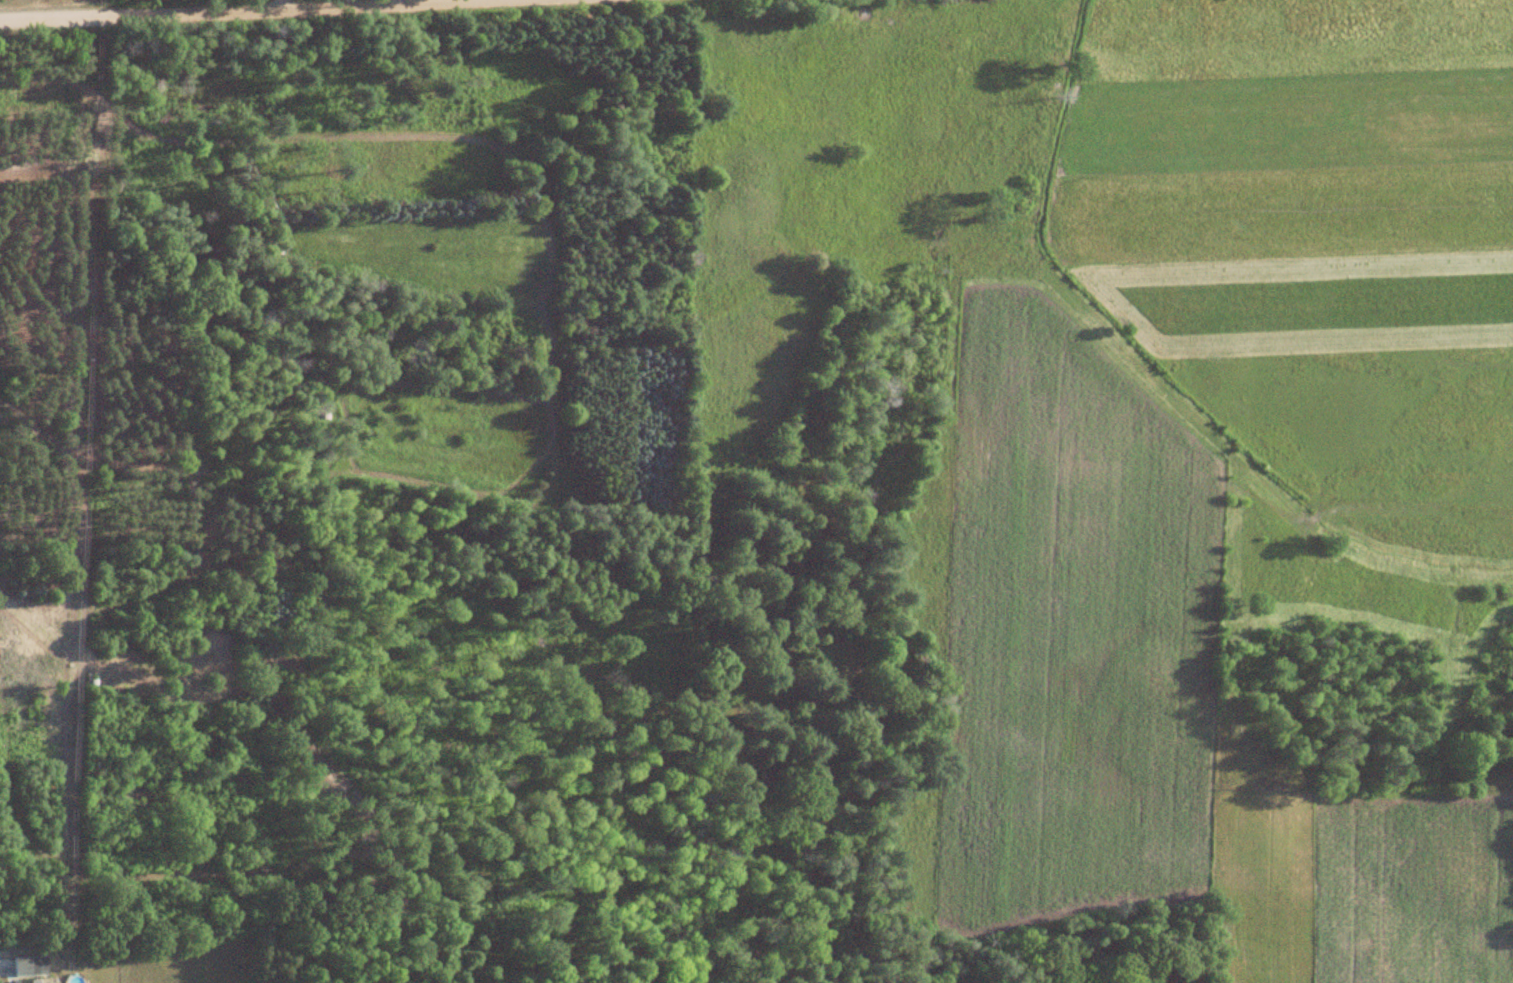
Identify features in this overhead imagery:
building: (29, 966)
building: (26, 981)

